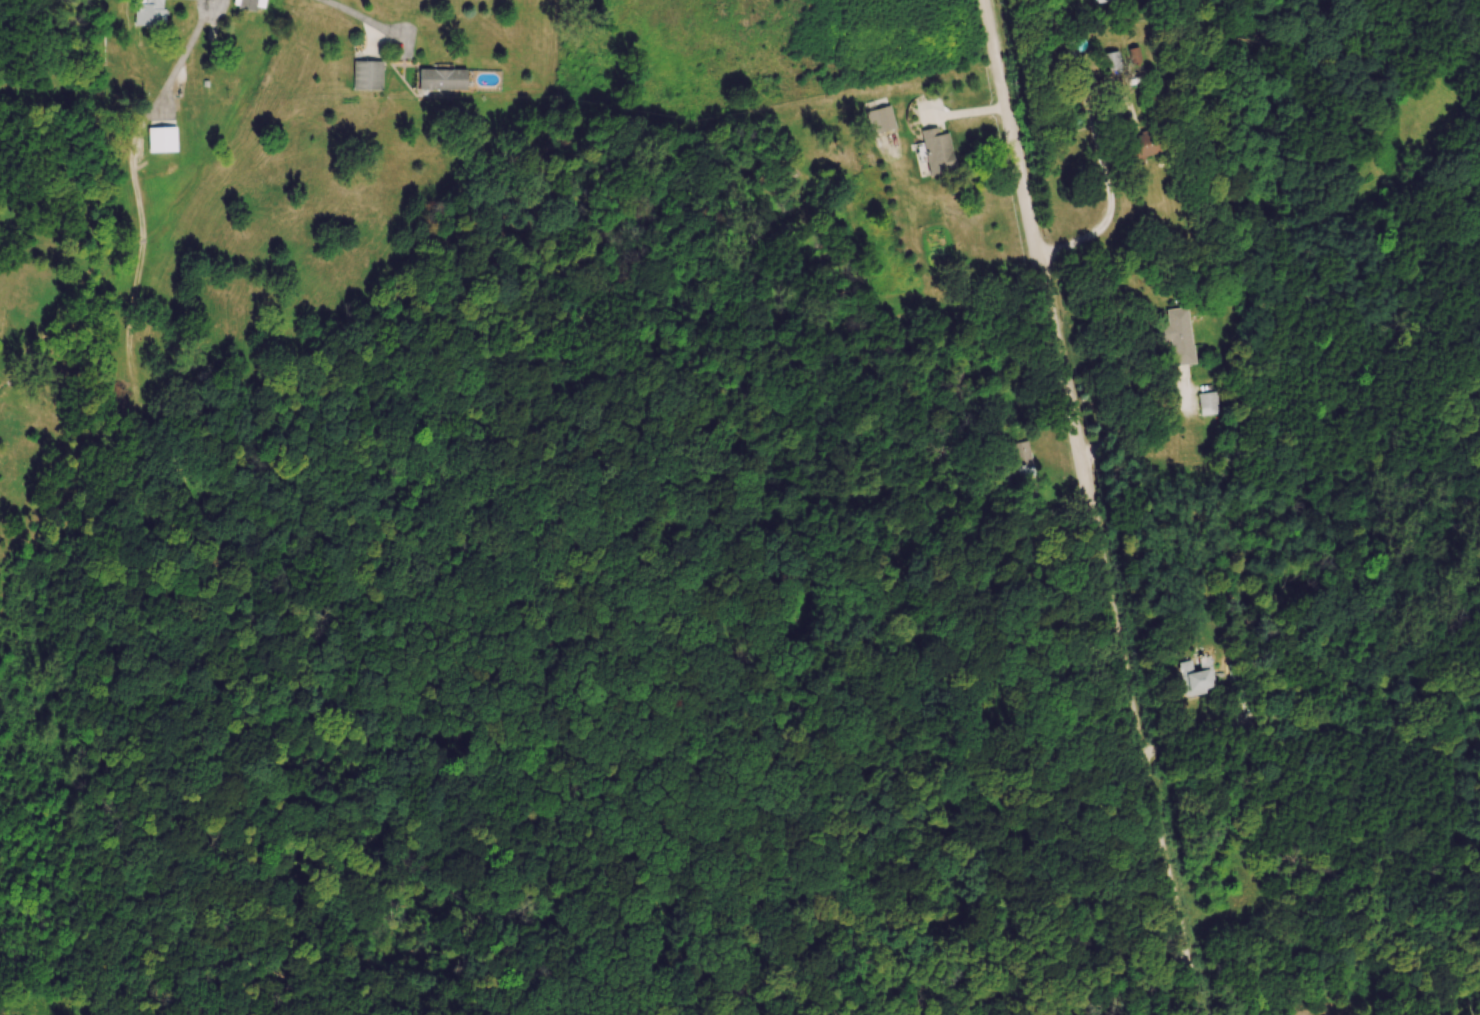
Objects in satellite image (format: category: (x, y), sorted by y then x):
building: (1097, 1)
building: (247, 4)
building: (148, 12)
road: (362, 16)
building: (1109, 61)
building: (366, 75)
building: (441, 79)
building: (879, 119)
building: (161, 139)
building: (1139, 146)
building: (936, 152)
road: (1101, 160)
building: (34, 318)
building: (1177, 336)
building: (1206, 403)
road: (1142, 421)
building: (1022, 459)
road: (1091, 507)
building: (1196, 677)

